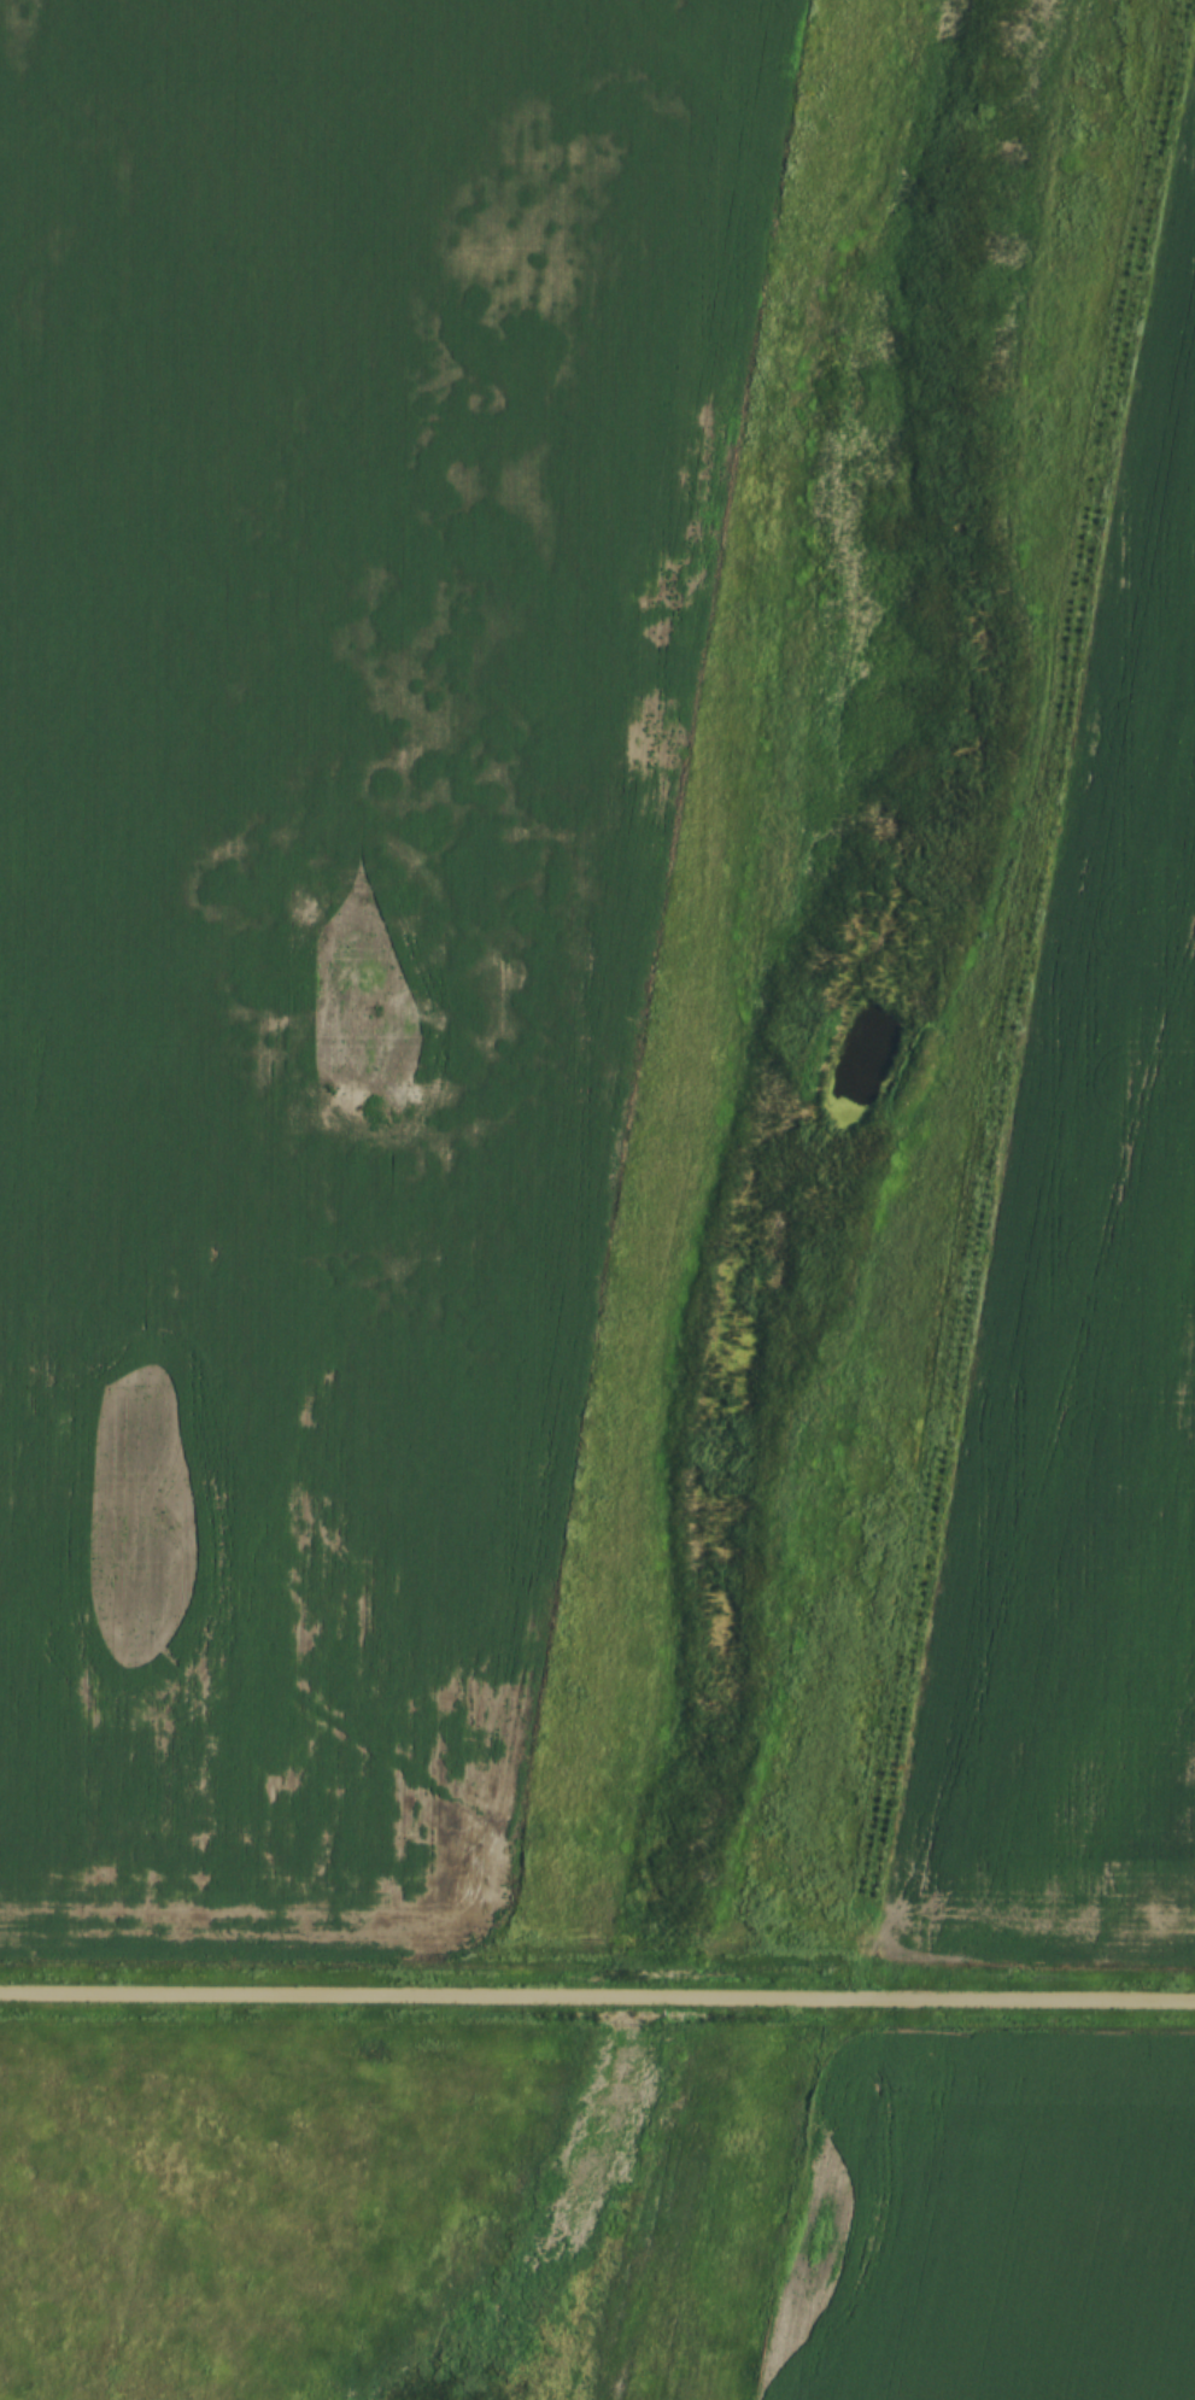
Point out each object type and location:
road: (597, 1992)

